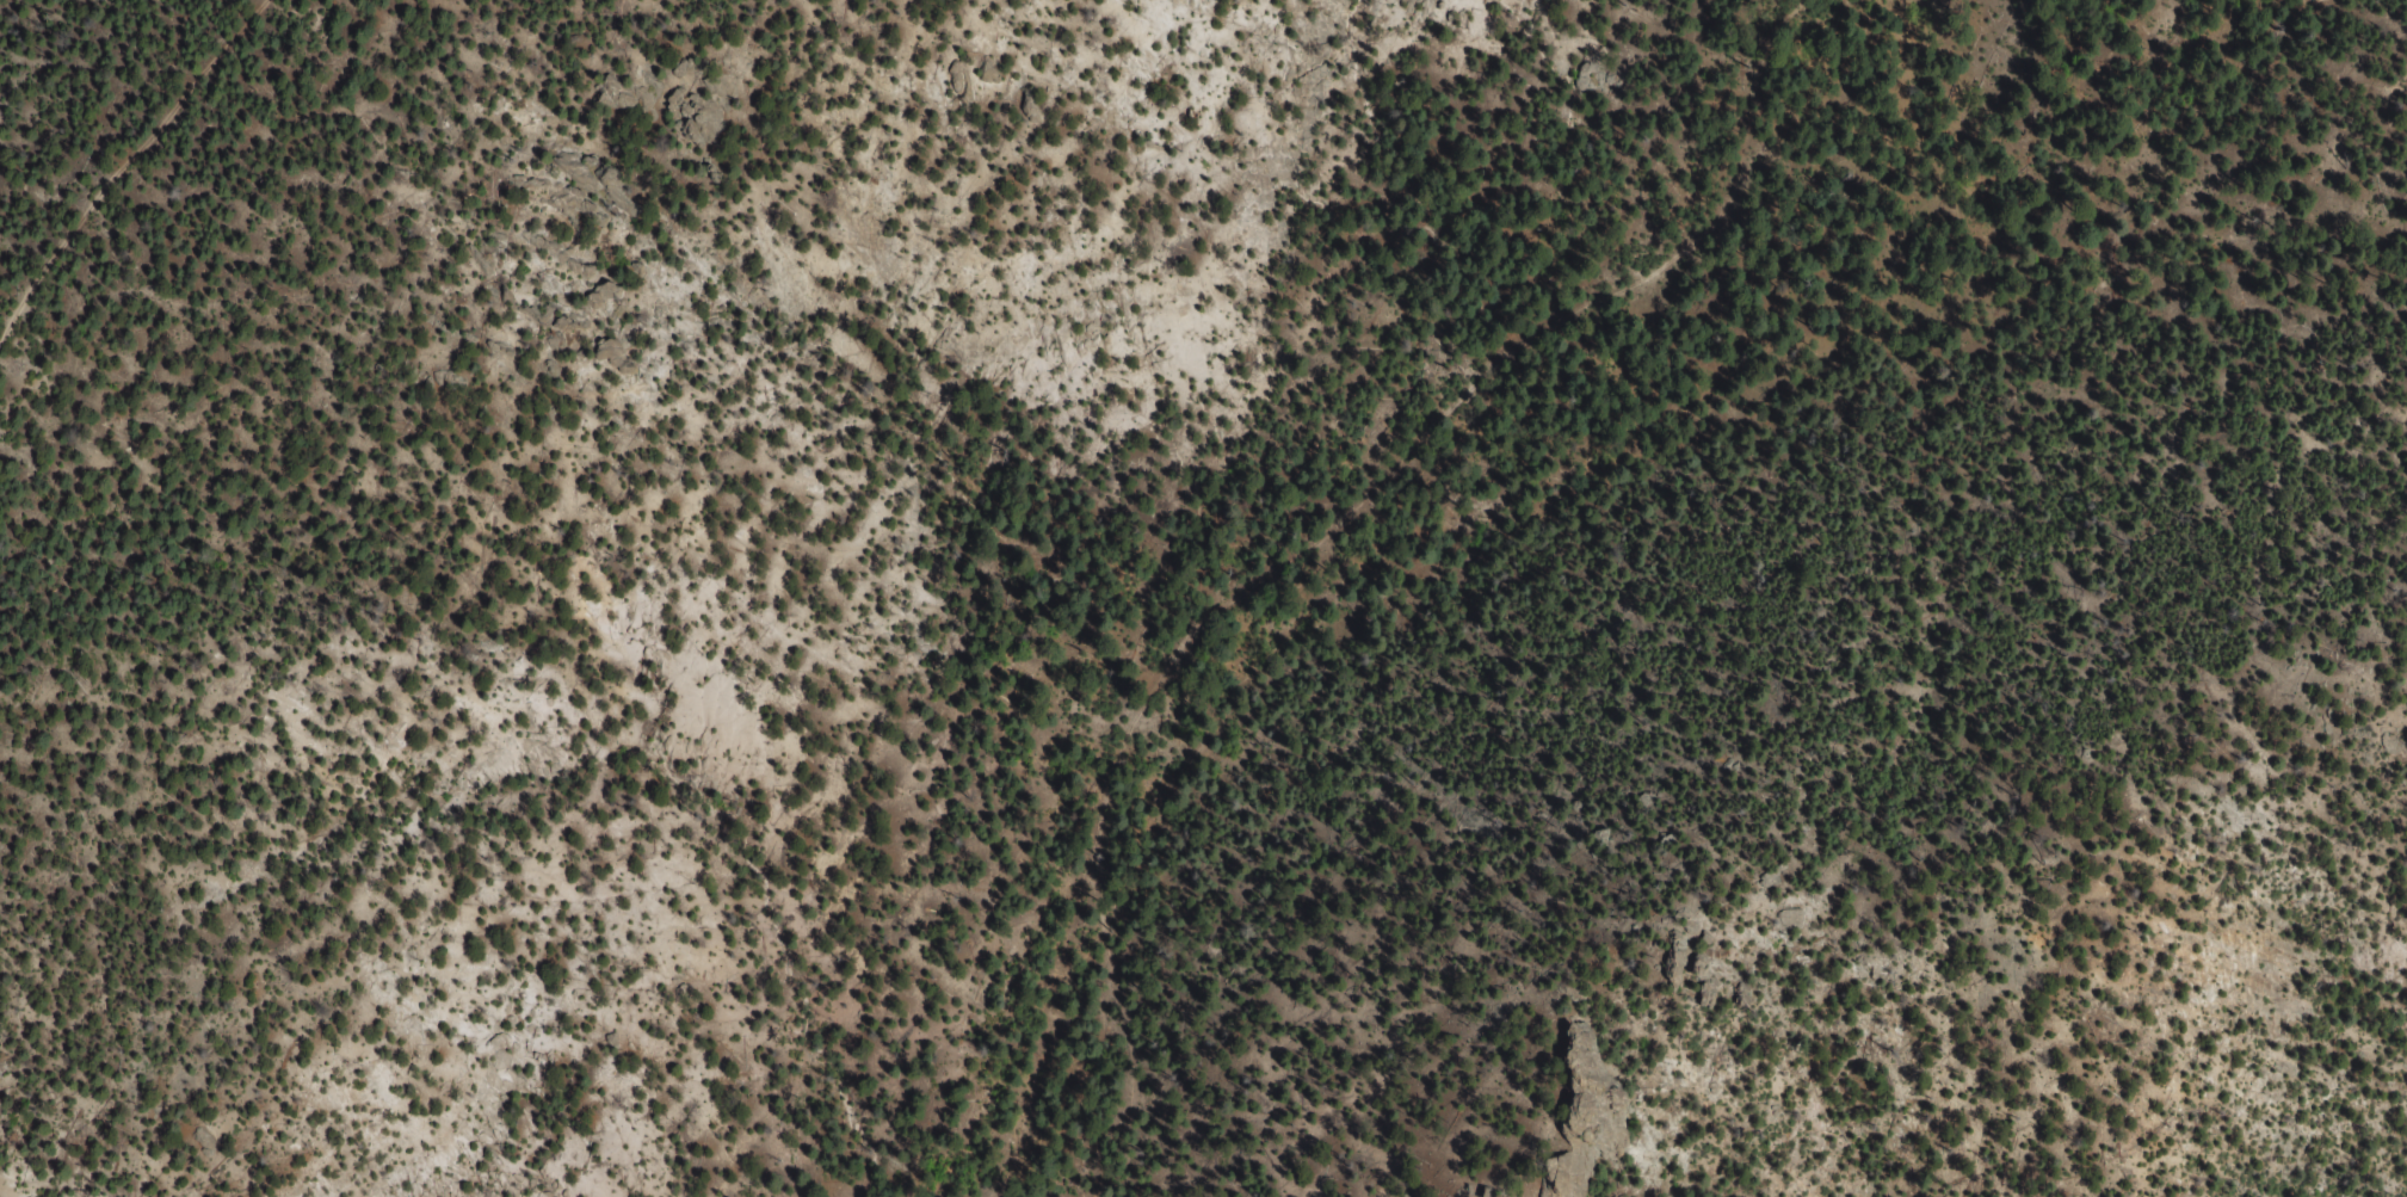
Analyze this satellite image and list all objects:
road: (128, 163)
road: (1316, 536)

